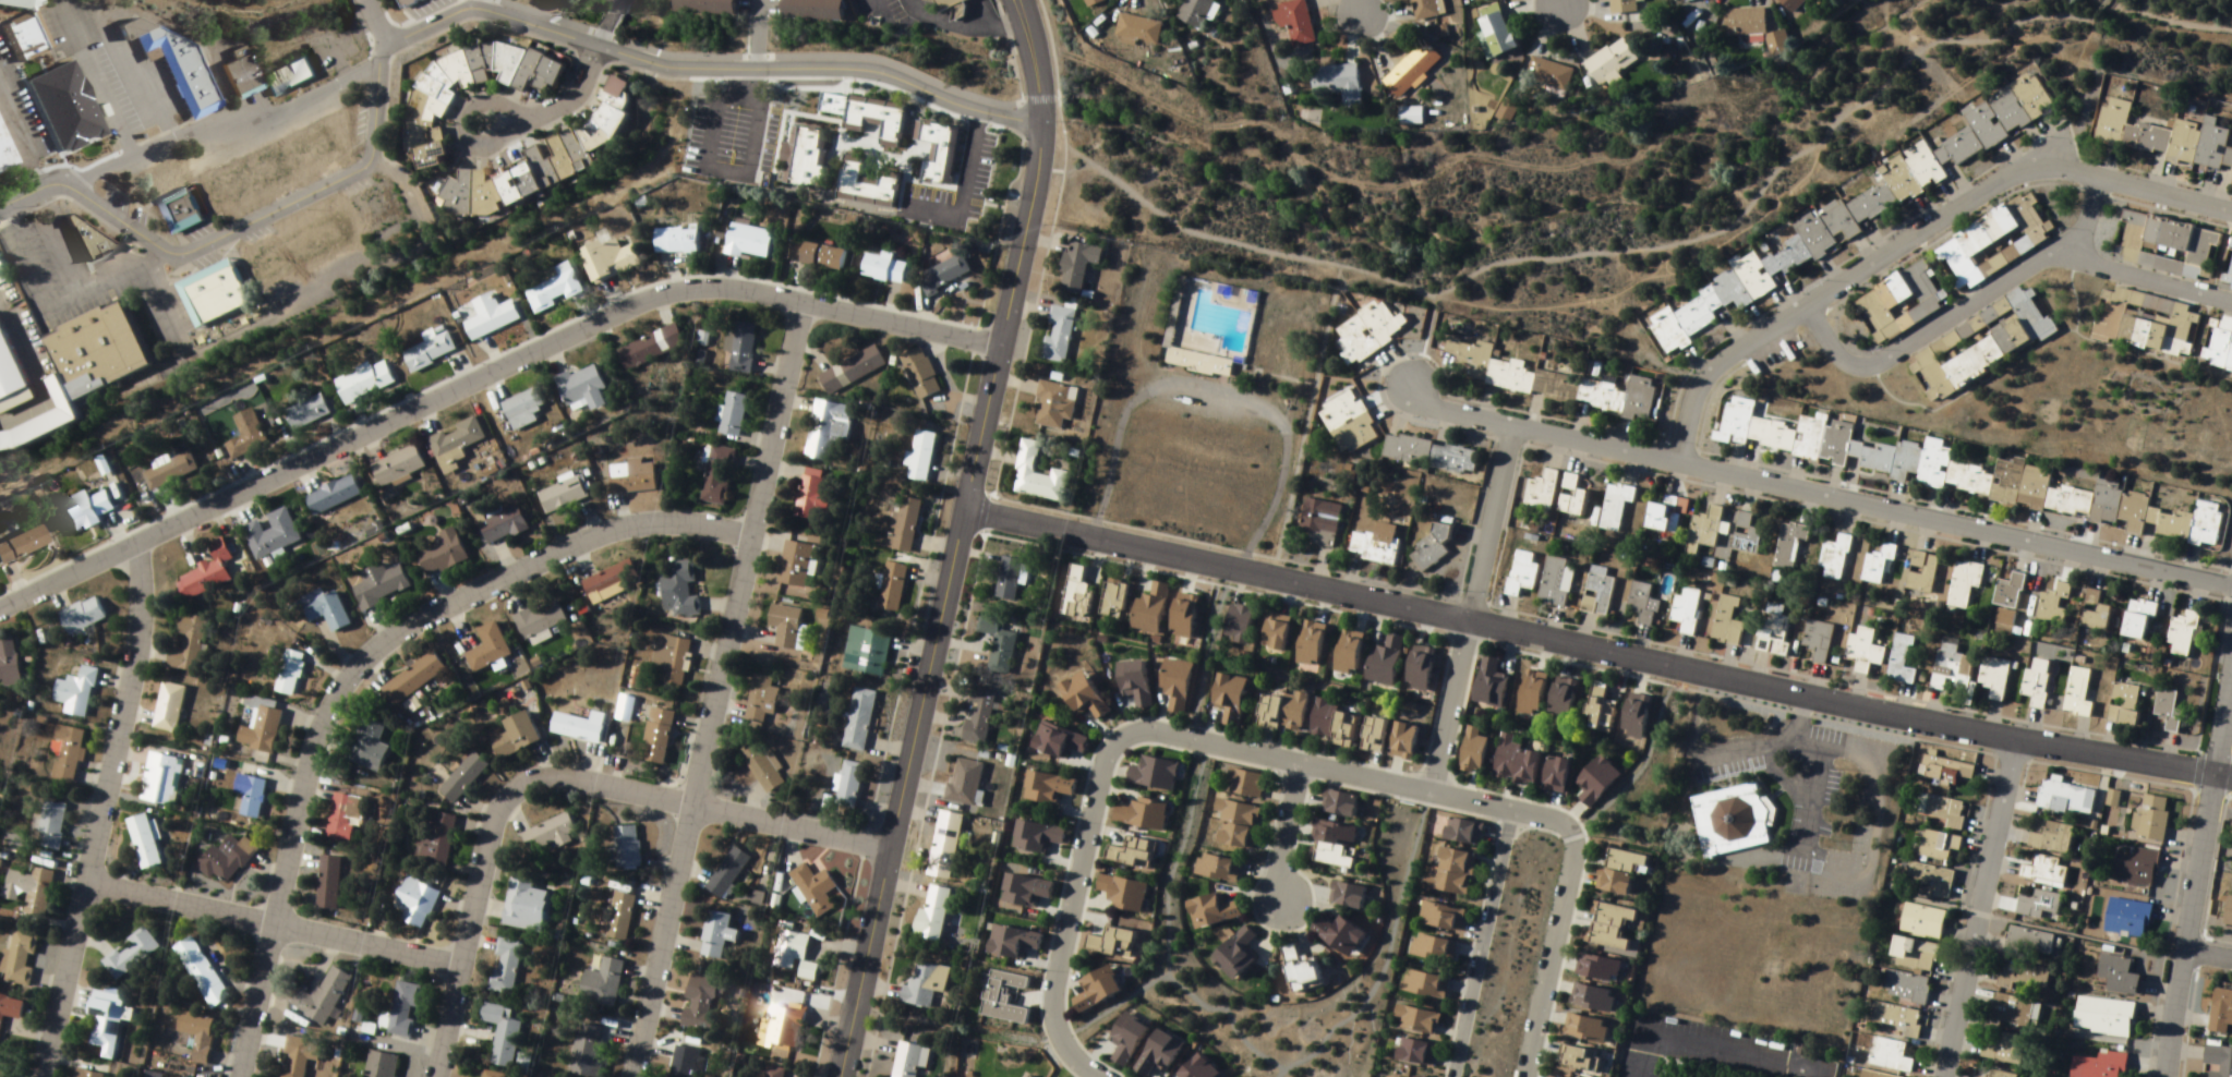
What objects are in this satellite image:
building: (1484, 0)
road: (1558, 0)
building: (1687, 1)
building: (405, 2)
building: (1093, 2)
building: (938, 3)
building: (1790, 4)
road: (1358, 5)
building: (1625, 5)
building: (703, 7)
building: (1426, 9)
building: (810, 10)
building: (1195, 12)
building: (1294, 22)
building: (1744, 22)
road: (375, 23)
road: (606, 25)
building: (21, 26)
building: (1137, 29)
building: (1495, 31)
building: (1777, 44)
building: (1609, 63)
building: (170, 68)
building: (1410, 70)
road: (707, 72)
building: (230, 73)
building: (282, 74)
building: (1548, 75)
building: (1337, 83)
building: (465, 86)
building: (56, 104)
road: (556, 111)
building: (1409, 117)
building: (873, 118)
road: (197, 125)
parking lot: (720, 134)
building: (2164, 137)
building: (312, 147)
building: (937, 153)
building: (3, 158)
building: (805, 158)
building: (535, 159)
road: (1037, 174)
building: (159, 179)
building: (242, 181)
building: (864, 185)
road: (317, 189)
building: (374, 209)
building: (1856, 209)
building: (179, 210)
road: (2080, 216)
road: (117, 218)
building: (84, 238)
road: (1915, 241)
building: (675, 242)
building: (747, 242)
road: (1591, 246)
building: (2165, 246)
building: (294, 247)
building: (816, 256)
road: (2059, 257)
building: (607, 261)
road: (153, 266)
building: (1077, 266)
building: (1954, 267)
building: (882, 269)
building: (2227, 270)
building: (943, 274)
building: (552, 292)
building: (210, 293)
building: (1175, 303)
building: (488, 317)
building: (2146, 323)
building: (1367, 332)
building: (1058, 335)
road: (1417, 337)
building: (1980, 344)
building: (91, 346)
building: (2218, 346)
road: (1851, 347)
building: (649, 348)
building: (739, 348)
building: (429, 353)
building: (1197, 362)
building: (850, 371)
road: (484, 372)
building: (7, 374)
building: (919, 374)
building: (363, 382)
building: (1547, 382)
building: (582, 388)
park: (1204, 397)
road: (1217, 401)
building: (1054, 404)
building: (521, 410)
parking lot: (1204, 410)
building: (306, 413)
building: (732, 415)
building: (38, 418)
building: (1350, 421)
building: (828, 429)
building: (245, 435)
building: (456, 438)
building: (1431, 455)
building: (919, 457)
building: (396, 467)
building: (170, 472)
building: (1959, 473)
building: (717, 476)
building: (1037, 476)
building: (630, 477)
building: (1540, 493)
building: (336, 494)
road: (1813, 494)
building: (810, 495)
building: (562, 496)
building: (1571, 497)
building: (1615, 506)
building: (85, 511)
building: (1656, 518)
building: (1319, 522)
building: (903, 524)
building: (502, 527)
road: (1486, 528)
building: (1704, 531)
building: (270, 535)
building: (1745, 535)
building: (1375, 544)
building: (20, 545)
building: (1789, 545)
building: (441, 554)
building: (1835, 558)
building: (794, 565)
building: (1878, 565)
building: (1922, 572)
building: (206, 573)
building: (1520, 574)
building: (1009, 580)
building: (608, 582)
building: (1553, 583)
building: (1965, 583)
building: (891, 586)
building: (379, 588)
building: (677, 590)
building: (1598, 591)
building: (2010, 592)
building: (1120, 596)
building: (1643, 604)
building: (2053, 605)
building: (1148, 609)
building: (1686, 609)
building: (326, 610)
building: (2094, 613)
building: (82, 616)
building: (1182, 616)
building: (2005, 618)
building: (540, 620)
building: (2137, 620)
building: (1236, 624)
building: (1727, 624)
building: (784, 626)
building: (1773, 631)
building: (1272, 632)
building: (2182, 636)
building: (1308, 643)
building: (1817, 643)
building: (186, 644)
building: (998, 644)
building: (487, 649)
road: (1598, 651)
building: (1863, 651)
building: (865, 652)
building: (1348, 652)
building: (672, 662)
building: (1384, 662)
building: (1901, 662)
building: (8, 663)
building: (1951, 666)
building: (1419, 668)
road: (358, 669)
building: (289, 673)
building: (1994, 677)
building: (412, 679)
building: (1133, 682)
building: (2037, 683)
building: (1174, 685)
building: (1489, 685)
road: (715, 691)
building: (75, 693)
building: (1530, 693)
building: (2078, 693)
building: (1082, 697)
building: (1228, 699)
building: (759, 700)
building: (1561, 700)
building: (2123, 705)
road: (1445, 706)
building: (168, 707)
building: (1597, 710)
building: (2168, 711)
road: (924, 713)
building: (1280, 713)
building: (1634, 716)
building: (977, 717)
building: (858, 719)
building: (1330, 725)
building: (260, 726)
building: (578, 727)
building: (653, 735)
building: (515, 736)
building: (1372, 736)
building: (1402, 741)
building: (1055, 742)
building: (367, 746)
building: (1471, 751)
building: (70, 754)
road: (1284, 760)
building: (1513, 762)
building: (760, 767)
building: (1146, 771)
building: (1945, 771)
parking lot: (1777, 774)
building: (1555, 775)
building: (1240, 777)
building: (462, 778)
building: (160, 779)
road: (558, 779)
building: (1596, 780)
building: (964, 783)
building: (847, 786)
building: (1046, 788)
building: (251, 795)
building: (1332, 799)
building: (2068, 799)
building: (1229, 808)
building: (1940, 810)
road: (109, 812)
building: (1133, 812)
building: (1726, 815)
building: (343, 816)
building: (2151, 819)
building: (51, 825)
road: (1279, 828)
building: (1452, 830)
building: (1327, 831)
building: (554, 832)
building: (1227, 834)
building: (1036, 837)
building: (436, 838)
building: (2052, 838)
building: (144, 842)
building: (943, 846)
building: (1124, 847)
building: (1939, 847)
building: (626, 848)
building: (227, 859)
road: (2195, 861)
building: (1211, 864)
building: (2135, 868)
building: (1443, 869)
building: (2046, 872)
building: (727, 873)
building: (328, 882)
building: (1929, 882)
building: (1612, 883)
building: (813, 888)
building: (1117, 890)
building: (29, 891)
building: (1024, 891)
building: (1341, 892)
building: (413, 903)
building: (526, 904)
building: (2039, 905)
road: (1976, 907)
building: (1204, 909)
building: (2228, 912)
building: (1431, 913)
building: (934, 915)
building: (619, 917)
building: (2128, 919)
building: (1923, 921)
building: (1607, 925)
road: (1162, 929)
building: (1332, 930)
road: (278, 933)
building: (716, 935)
building: (1108, 937)
building: (2029, 942)
building: (1012, 943)
road: (1477, 943)
building: (1422, 945)
building: (1229, 948)
road: (1382, 953)
road: (2207, 953)
building: (131, 954)
building: (1914, 955)
building: (794, 956)
building: (19, 957)
building: (506, 967)
building: (1294, 967)
building: (1596, 969)
building: (201, 972)
building: (2119, 975)
building: (2024, 977)
building: (1417, 982)
building: (602, 983)
building: (924, 984)
building: (1906, 988)
building: (1089, 989)
building: (322, 996)
building: (1591, 999)
building: (700, 1002)
road: (1110, 1003)
building: (10, 1007)
building: (403, 1008)
building: (2012, 1011)
building: (2221, 1013)
building: (1410, 1016)
building: (2103, 1017)
building: (1897, 1019)
building: (106, 1021)
building: (785, 1025)
building: (1585, 1028)
building: (195, 1032)
building: (503, 1033)
building: (1120, 1033)
road: (1712, 1042)
parking lot: (1711, 1044)
building: (2003, 1048)
building: (1409, 1049)
building: (589, 1050)
building: (1150, 1051)
building: (298, 1056)
building: (1892, 1056)
building: (1578, 1057)
building: (907, 1060)
building: (2219, 1061)
building: (684, 1062)
building: (381, 1064)
building: (2100, 1065)
building: (1192, 1067)
building: (773, 1072)
building: (4, 1073)
building: (87, 1073)
building: (492, 1074)
building: (1400, 1074)
building: (2000, 1074)
building: (1877, 1075)
building: (1422, 1076)

